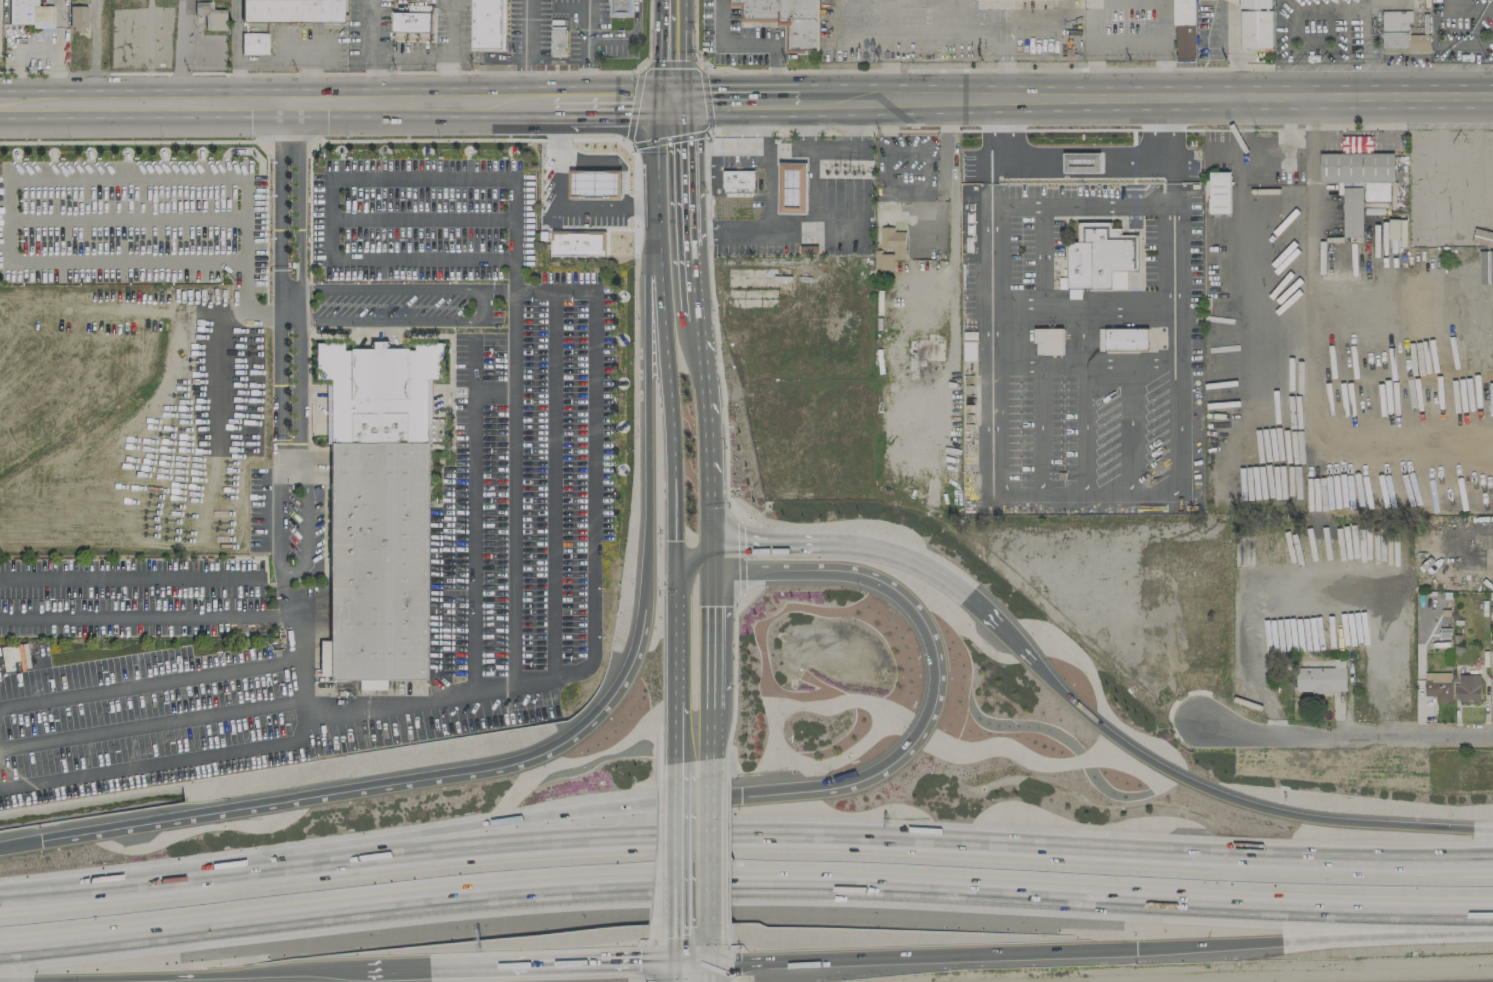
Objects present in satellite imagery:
building: (999, 0)
road: (1128, 1)
building: (1256, 4)
road: (1467, 7)
building: (620, 8)
building: (290, 10)
building: (30, 14)
road: (1072, 14)
road: (1093, 14)
road: (962, 15)
building: (78, 17)
building: (412, 20)
building: (785, 20)
road: (1164, 21)
building: (486, 24)
road: (372, 26)
road: (982, 29)
building: (1256, 29)
road: (884, 30)
building: (1184, 31)
building: (1400, 33)
road: (625, 34)
road: (1321, 38)
building: (558, 41)
road: (1103, 42)
building: (254, 43)
road: (750, 46)
road: (585, 50)
road: (1230, 50)
road: (447, 51)
road: (525, 51)
road: (235, 52)
road: (384, 52)
road: (670, 52)
road: (93, 54)
road: (280, 60)
road: (184, 61)
road: (1003, 63)
road: (1368, 64)
road: (886, 65)
road: (1314, 67)
road: (1093, 70)
road: (307, 71)
road: (1170, 96)
road: (826, 100)
road: (786, 101)
road: (800, 101)
road: (538, 102)
road: (568, 102)
road: (722, 102)
road: (626, 103)
road: (262, 104)
traffic signals: (668, 104)
road: (288, 121)
road: (1361, 133)
road: (1241, 142)
building: (1357, 146)
road: (1316, 159)
road: (780, 163)
building: (1081, 163)
building: (600, 164)
road: (887, 170)
building: (1360, 172)
road: (53, 179)
building: (792, 188)
building: (735, 193)
building: (1219, 193)
road: (557, 203)
road: (1079, 204)
road: (951, 211)
building: (1352, 212)
road: (128, 218)
road: (688, 218)
road: (280, 223)
building: (1396, 229)
road: (1171, 231)
road: (833, 233)
building: (577, 245)
building: (891, 248)
building: (1098, 256)
road: (913, 281)
road: (397, 291)
building: (1074, 294)
road: (988, 296)
road: (1080, 310)
road: (1248, 313)
road: (393, 320)
building: (1122, 339)
building: (1049, 340)
road: (1081, 366)
road: (298, 377)
road: (594, 378)
road: (1318, 385)
road: (667, 401)
road: (701, 405)
road: (1173, 429)
road: (289, 464)
road: (1081, 491)
road: (513, 492)
building: (380, 505)
road: (278, 520)
road: (710, 522)
road: (304, 527)
building: (1243, 543)
traffic signals: (674, 554)
traffic signals: (675, 573)
road: (694, 573)
road: (128, 577)
road: (959, 593)
road: (712, 641)
building: (1321, 679)
road: (147, 684)
building: (1438, 686)
building: (1467, 688)
road: (679, 731)
road: (711, 734)
road: (1344, 735)
road: (546, 748)
road: (154, 765)
road: (696, 799)
road: (1337, 821)
road: (745, 839)
road: (678, 841)
road: (710, 841)
road: (745, 883)
road: (1313, 940)
road: (676, 942)
road: (709, 953)
road: (943, 955)
traffic signals: (676, 960)
road: (692, 960)
road: (730, 960)
road: (521, 967)
road: (675, 971)
road: (183, 976)

